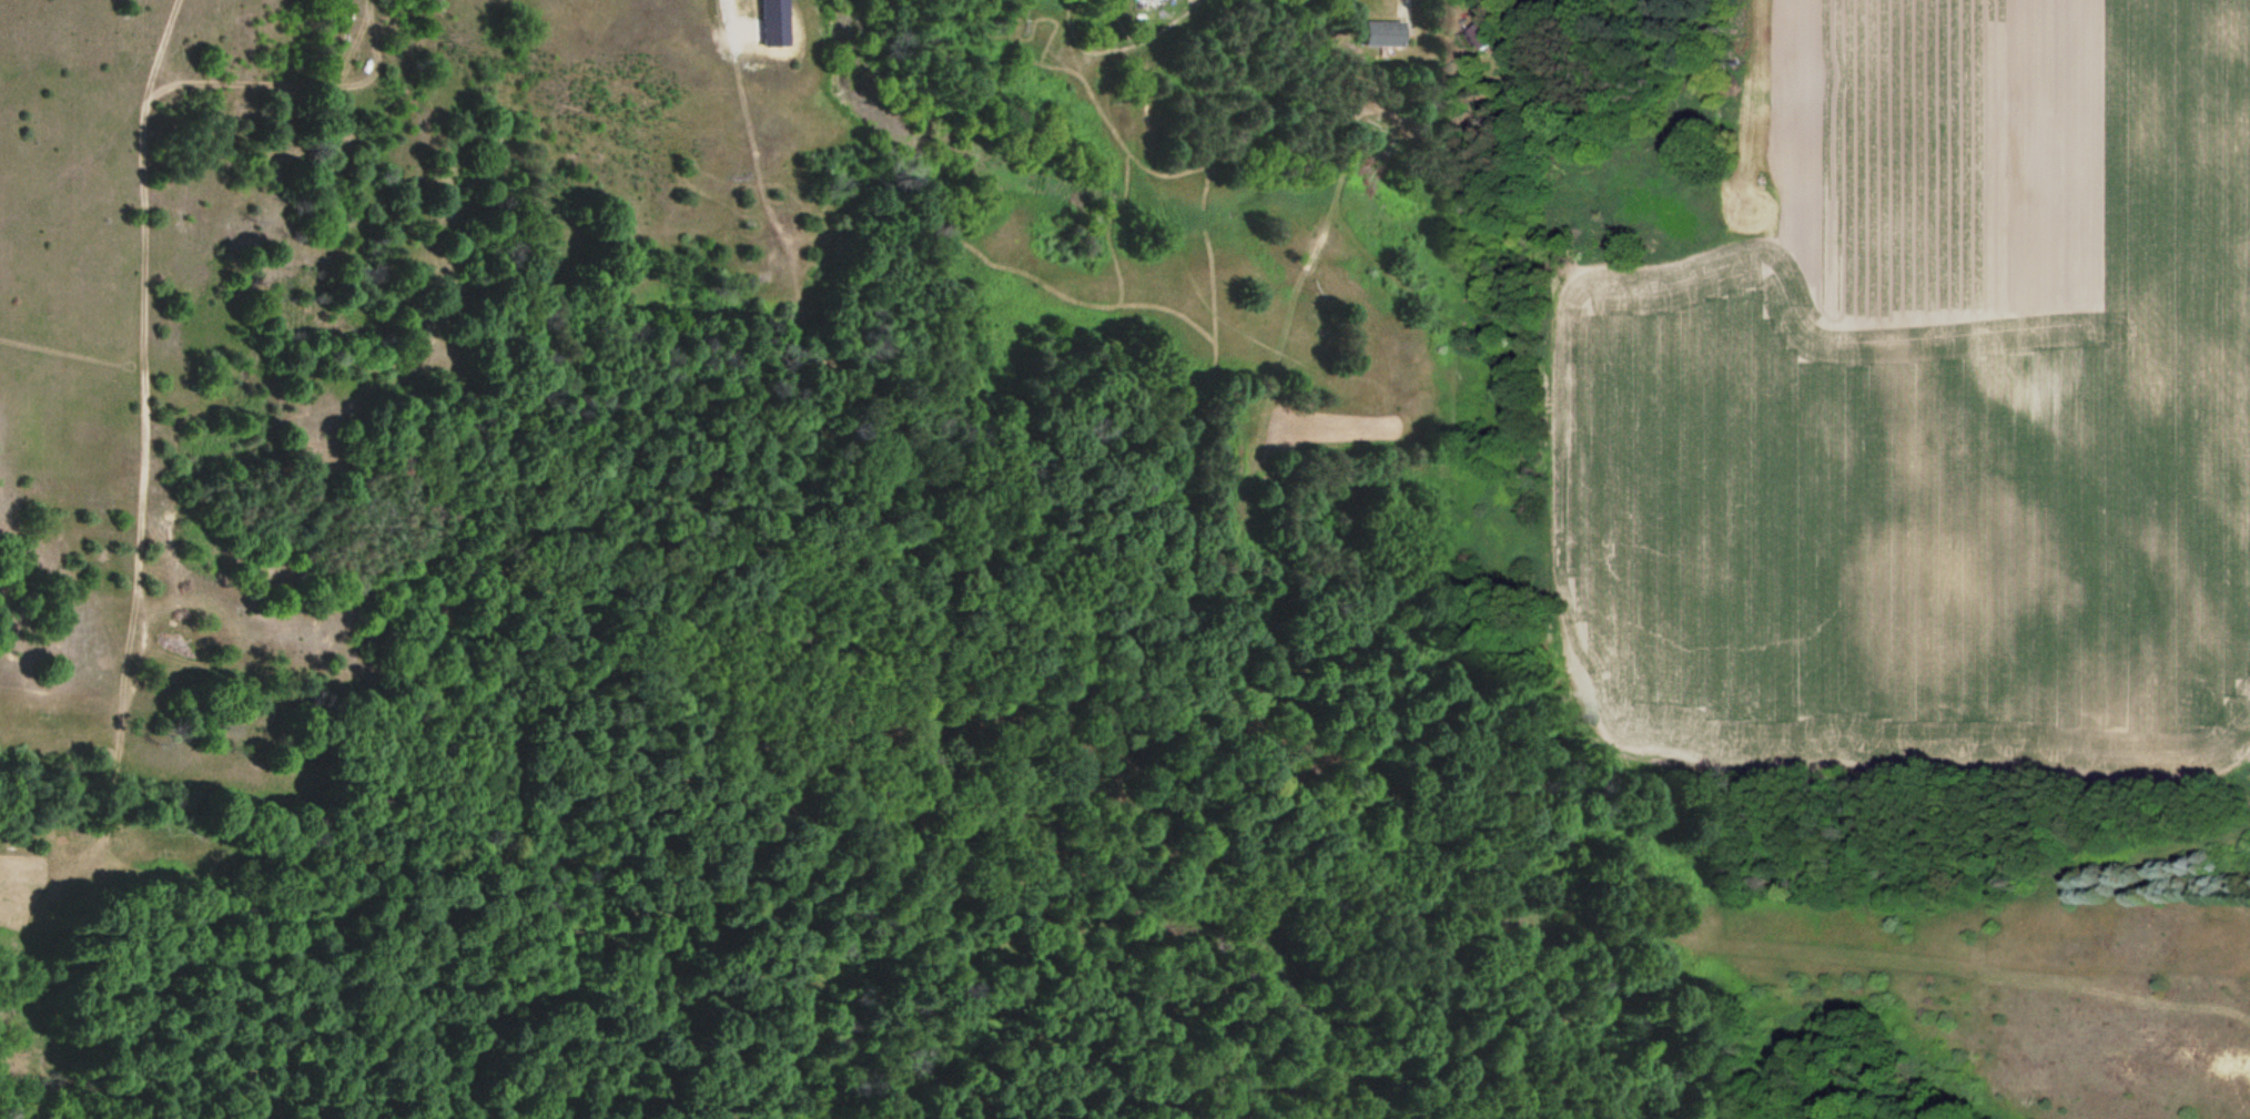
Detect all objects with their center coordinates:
building: (1379, 35)
building: (1478, 35)

